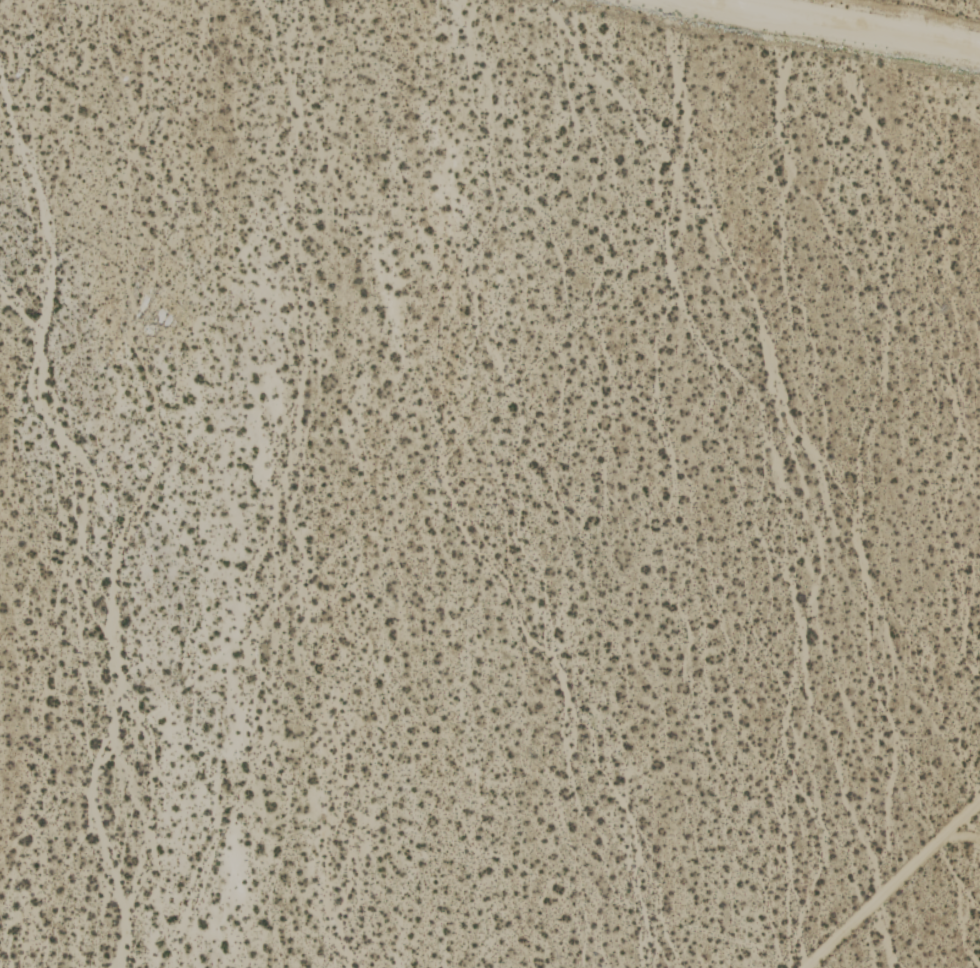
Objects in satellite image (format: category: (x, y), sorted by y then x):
road: (844, 25)

